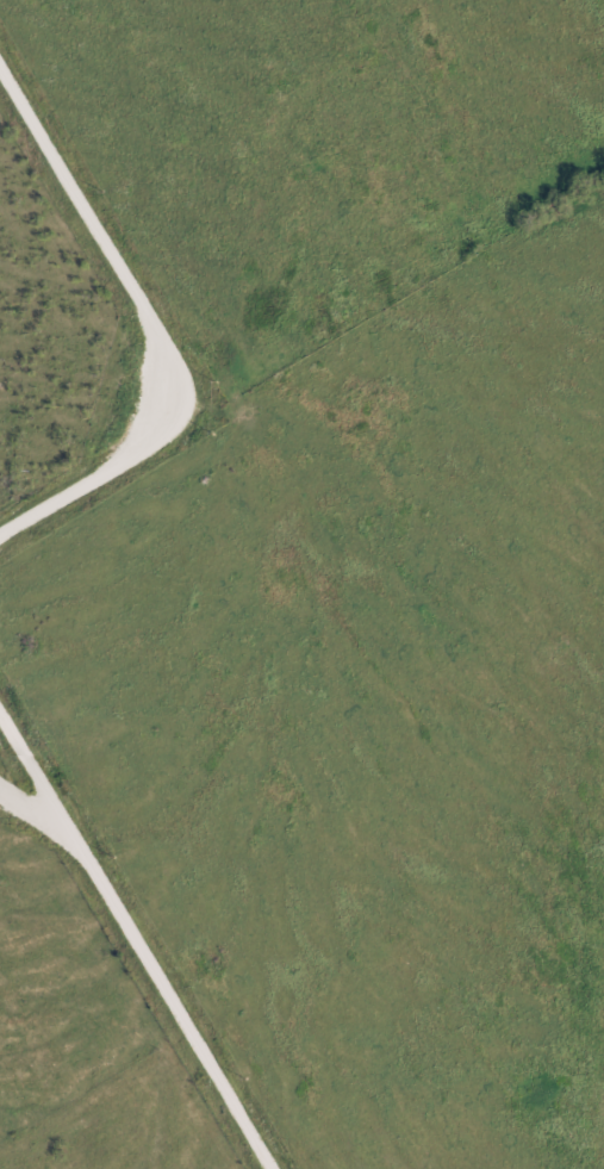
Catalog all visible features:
road: (158, 321)
road: (139, 934)

